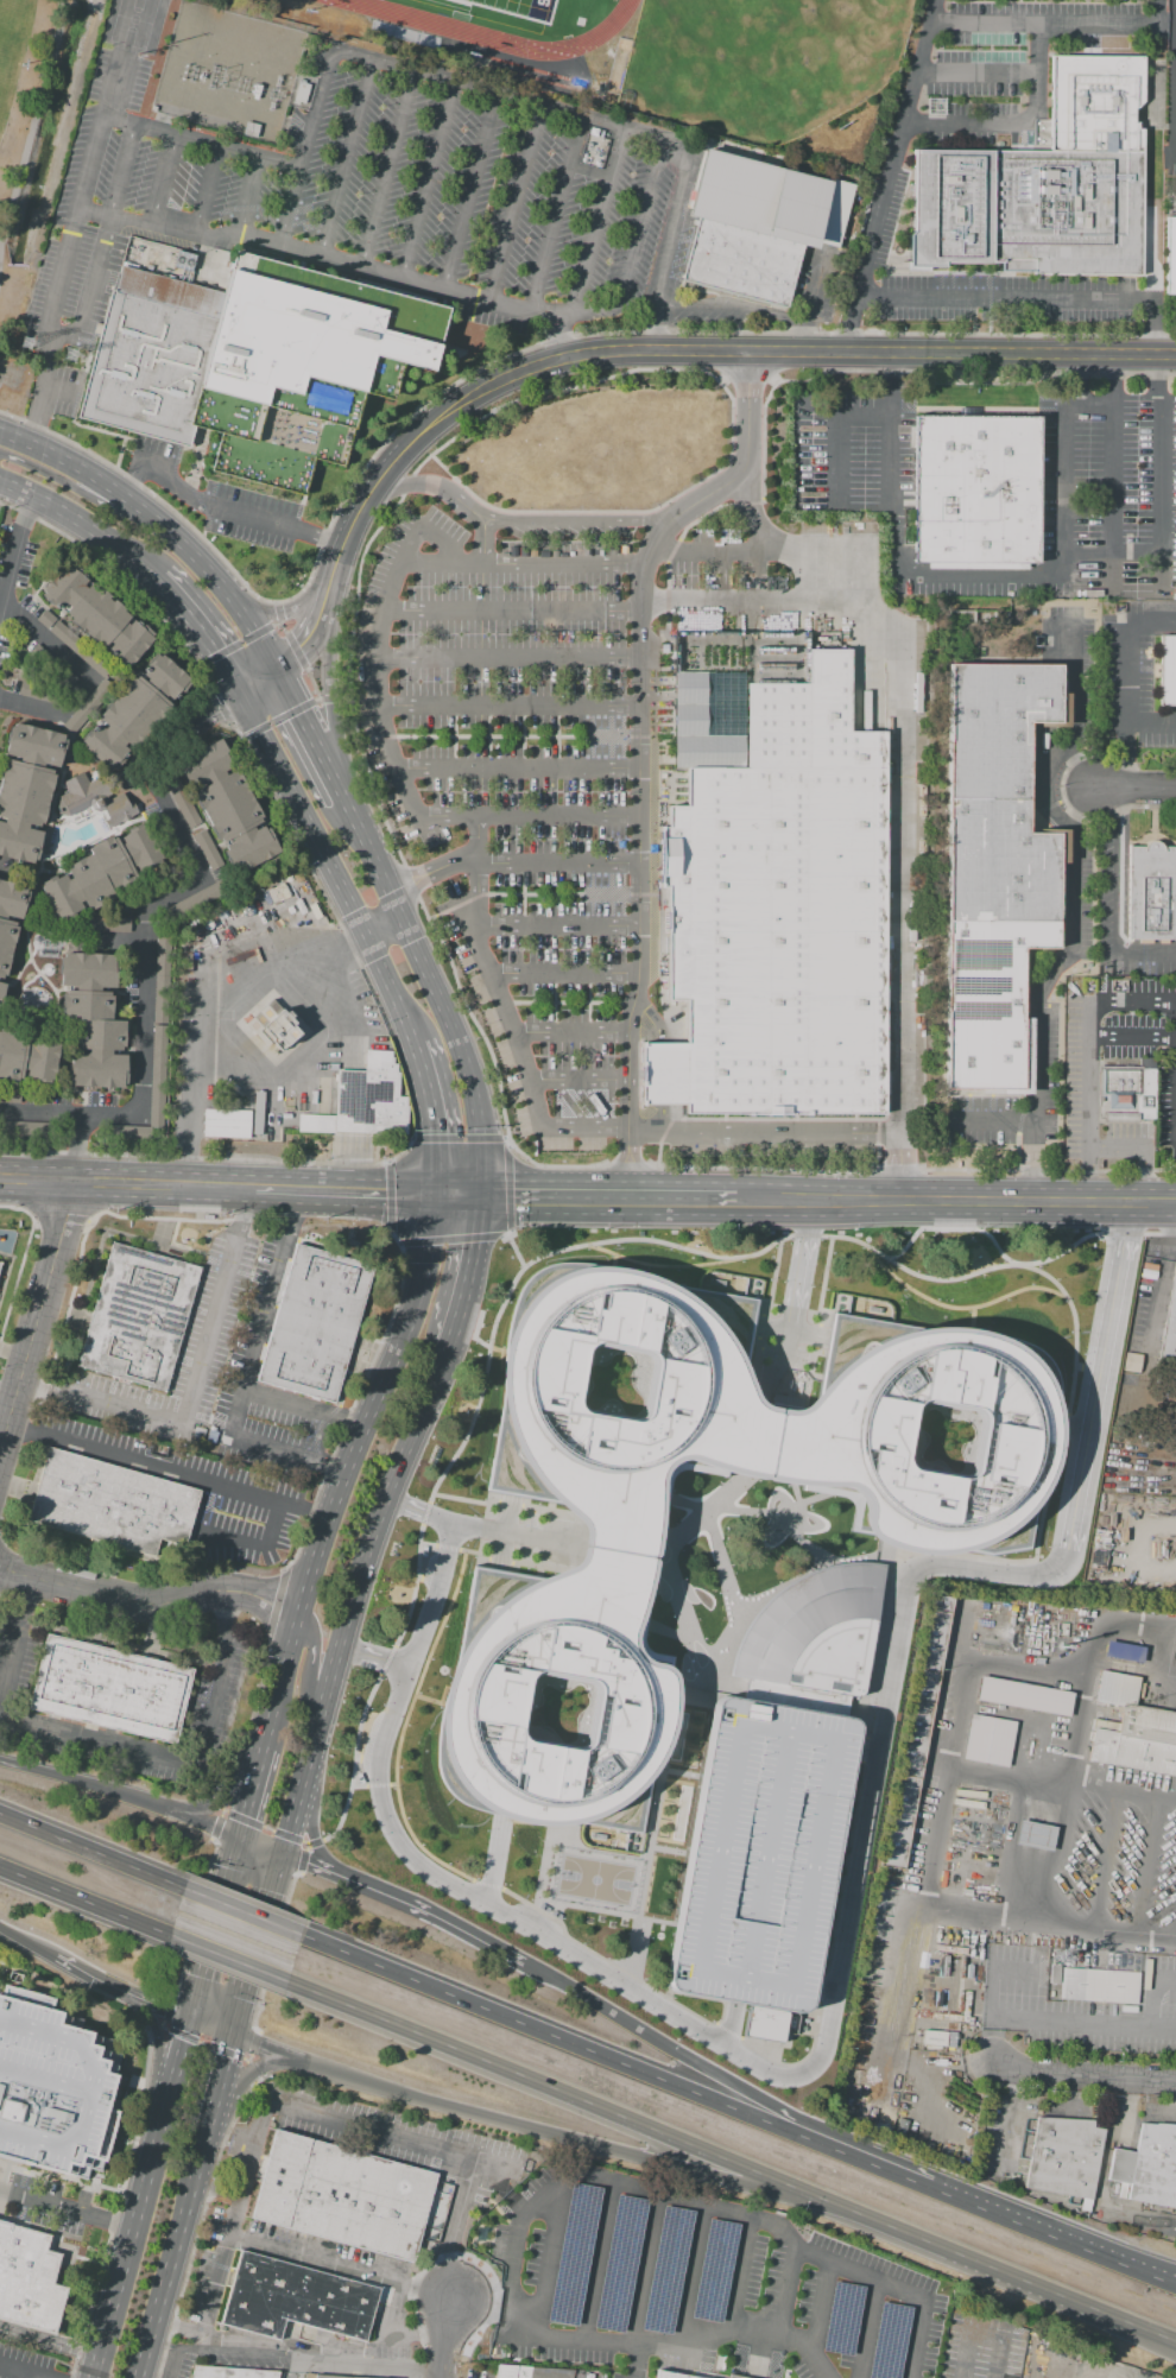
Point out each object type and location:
park: (583, 7)
park: (519, 8)
park: (500, 11)
track: (512, 18)
stadium: (524, 27)
road: (1056, 29)
park: (7, 30)
building: (405, 32)
park: (10, 39)
park: (761, 61)
road: (976, 75)
road: (1174, 77)
building: (301, 93)
road: (511, 102)
road: (1017, 124)
road: (36, 126)
park: (34, 129)
building: (251, 129)
road: (203, 145)
road: (306, 150)
road: (894, 150)
road: (1175, 154)
road: (347, 160)
road: (12, 164)
road: (1152, 165)
road: (390, 171)
road: (121, 172)
road: (166, 182)
road: (430, 182)
building: (1043, 185)
road: (208, 192)
road: (472, 194)
road: (252, 198)
road: (518, 205)
road: (1175, 205)
road: (556, 216)
road: (598, 222)
road: (643, 222)
building: (759, 224)
road: (669, 227)
road: (286, 247)
road: (70, 252)
building: (1170, 255)
road: (89, 285)
road: (1003, 301)
road: (808, 303)
road: (731, 308)
road: (575, 310)
road: (846, 329)
road: (658, 330)
road: (1152, 333)
road: (562, 337)
power tower: (19, 349)
power tower: (69, 355)
building: (251, 358)
road: (778, 358)
road: (979, 372)
road: (1157, 373)
road: (58, 390)
road: (1136, 406)
road: (1111, 453)
road: (64, 460)
road: (1161, 462)
road: (151, 472)
road: (59, 480)
road: (868, 482)
road: (1066, 485)
building: (975, 491)
road: (372, 495)
road: (752, 519)
road: (83, 520)
road: (520, 521)
road: (265, 523)
road: (485, 542)
road: (12, 543)
building: (614, 548)
building: (561, 550)
building: (601, 550)
building: (569, 551)
building: (584, 551)
building: (592, 551)
road: (720, 551)
road: (1137, 551)
building: (520, 552)
building: (538, 552)
building: (546, 552)
building: (554, 552)
road: (337, 561)
road: (523, 564)
road: (210, 573)
road: (938, 575)
road: (77, 592)
road: (747, 602)
road: (354, 605)
road: (285, 612)
road: (512, 612)
building: (96, 614)
road: (129, 616)
road: (204, 628)
road: (315, 630)
building: (72, 644)
road: (236, 645)
road: (508, 660)
road: (1075, 664)
traffic signals: (276, 668)
building: (51, 669)
building: (1166, 672)
road: (82, 673)
road: (260, 678)
road: (1123, 682)
road: (147, 683)
traffic signals: (245, 689)
road: (310, 691)
building: (39, 694)
road: (331, 696)
road: (331, 700)
road: (510, 706)
building: (88, 707)
building: (866, 710)
building: (134, 711)
building: (855, 719)
road: (95, 720)
road: (1150, 726)
building: (698, 728)
road: (309, 733)
road: (639, 751)
road: (388, 758)
road: (31, 763)
parking lot: (535, 763)
road: (69, 767)
road: (516, 769)
road: (107, 773)
building: (26, 788)
road: (121, 789)
road: (1134, 789)
building: (78, 793)
road: (1124, 797)
building: (228, 807)
road: (137, 808)
building: (116, 810)
road: (306, 812)
road: (59, 816)
road: (1086, 816)
road: (198, 820)
road: (23, 824)
road: (190, 830)
building: (198, 833)
road: (119, 845)
road: (897, 859)
road: (373, 860)
road: (39, 865)
road: (511, 865)
building: (991, 866)
road: (1077, 869)
road: (17, 871)
building: (101, 872)
building: (289, 879)
building: (298, 880)
building: (1151, 891)
building: (280, 892)
road: (75, 893)
building: (271, 894)
road: (1114, 894)
building: (196, 900)
building: (292, 903)
building: (267, 905)
building: (257, 907)
building: (285, 907)
building: (777, 917)
building: (304, 918)
road: (12, 919)
building: (10, 923)
road: (146, 923)
building: (192, 925)
road: (556, 926)
building: (109, 928)
road: (387, 929)
road: (115, 941)
building: (203, 942)
road: (328, 959)
road: (23, 962)
building: (188, 962)
building: (87, 970)
road: (563, 974)
road: (5, 981)
road: (97, 989)
road: (392, 989)
road: (1133, 1000)
road: (8, 1006)
road: (55, 1007)
road: (12, 1022)
parking lot: (1119, 1022)
building: (158, 1027)
building: (272, 1029)
road: (325, 1029)
road: (570, 1033)
building: (94, 1039)
road: (1133, 1042)
road: (463, 1049)
road: (99, 1051)
building: (26, 1056)
road: (1035, 1067)
road: (24, 1069)
road: (577, 1080)
building: (11, 1095)
road: (190, 1099)
road: (1089, 1099)
building: (1126, 1099)
building: (365, 1100)
building: (258, 1112)
road: (434, 1113)
road: (994, 1122)
building: (227, 1124)
road: (557, 1128)
building: (27, 1131)
building: (125, 1132)
road: (449, 1143)
road: (394, 1146)
road: (77, 1147)
road: (1132, 1149)
road: (624, 1160)
road: (543, 1163)
road: (911, 1170)
road: (127, 1181)
road: (346, 1187)
traffic signals: (440, 1187)
road: (464, 1187)
traffic signals: (489, 1188)
road: (694, 1190)
road: (1037, 1196)
road: (1136, 1237)
road: (455, 1238)
road: (993, 1245)
road: (557, 1250)
road: (516, 1251)
road: (798, 1257)
road: (472, 1265)
road: (944, 1308)
road: (38, 1316)
building: (137, 1317)
road: (771, 1317)
building: (314, 1323)
road: (810, 1324)
building: (1169, 1330)
road: (474, 1339)
road: (249, 1367)
road: (1085, 1367)
road: (195, 1386)
road: (302, 1408)
road: (6, 1409)
road: (1073, 1448)
road: (343, 1463)
road: (166, 1471)
building: (112, 1506)
road: (442, 1518)
road: (502, 1531)
road: (255, 1541)
building: (932, 1545)
road: (441, 1548)
road: (1132, 1550)
road: (146, 1600)
building: (815, 1631)
road: (17, 1646)
building: (1124, 1652)
road: (369, 1656)
building: (658, 1658)
building: (1171, 1658)
road: (1158, 1665)
road: (311, 1672)
road: (328, 1684)
building: (1119, 1688)
building: (110, 1689)
building: (794, 1696)
building: (1024, 1696)
road: (1081, 1712)
building: (916, 1731)
road: (400, 1733)
building: (1134, 1740)
building: (990, 1741)
road: (864, 1743)
road: (188, 1763)
road: (369, 1784)
road: (122, 1789)
road: (251, 1791)
road: (227, 1794)
road: (943, 1811)
park: (678, 1815)
road: (216, 1826)
road: (260, 1826)
building: (1033, 1834)
traffic signals: (240, 1838)
road: (265, 1846)
road: (320, 1847)
road: (86, 1848)
road: (1060, 1851)
traffic signals: (290, 1854)
building: (759, 1854)
parking garage: (759, 1854)
road: (299, 1857)
road: (233, 1860)
road: (498, 1860)
road: (1105, 1861)
road: (1146, 1867)
road: (331, 1872)
park: (593, 1881)
road: (487, 1886)
road: (80, 1898)
road: (241, 1912)
road: (451, 1923)
road: (1134, 1937)
road: (27, 1940)
road: (206, 1952)
road: (607, 1956)
road: (228, 1959)
road: (827, 1959)
road: (89, 1974)
road: (992, 1984)
building: (1099, 1985)
road: (1152, 1994)
road: (154, 2005)
traffic signals: (185, 2020)
road: (726, 2024)
road: (1070, 2026)
road: (209, 2029)
road: (727, 2030)
road: (1163, 2031)
road: (158, 2037)
traffic signals: (234, 2037)
building: (937, 2037)
road: (561, 2039)
road: (669, 2049)
road: (252, 2069)
road: (1080, 2079)
road: (220, 2089)
building: (50, 2093)
road: (1125, 2111)
road: (1151, 2113)
road: (259, 2120)
road: (511, 2123)
road: (1005, 2123)
building: (1066, 2156)
road: (736, 2165)
building: (1149, 2165)
road: (214, 2194)
building: (342, 2196)
road: (143, 2199)
road: (973, 2203)
road: (68, 2208)
road: (459, 2220)
road: (517, 2233)
road: (450, 2251)
building: (571, 2253)
road: (175, 2260)
road: (598, 2260)
building: (619, 2263)
road: (644, 2268)
building: (665, 2269)
road: (340, 2270)
building: (713, 2270)
road: (1155, 2272)
road: (689, 2273)
road: (735, 2273)
road: (1155, 2276)
building: (26, 2283)
road: (894, 2288)
road: (785, 2289)
road: (542, 2290)
building: (299, 2298)
road: (476, 2298)
road: (518, 2307)
building: (841, 2317)
road: (865, 2328)
road: (178, 2329)
road: (447, 2335)
building: (887, 2340)
road: (772, 2354)
road: (999, 2357)
road: (636, 2360)
road: (295, 2361)
road: (995, 2361)
road: (169, 2366)
building: (533, 2371)
road: (18, 2372)
road: (993, 2372)
road: (1024, 2372)
building: (229, 2373)
road: (410, 2373)
road: (707, 2373)
building: (670, 2374)
building: (324, 2376)
road: (32, 2377)
building: (734, 2377)

